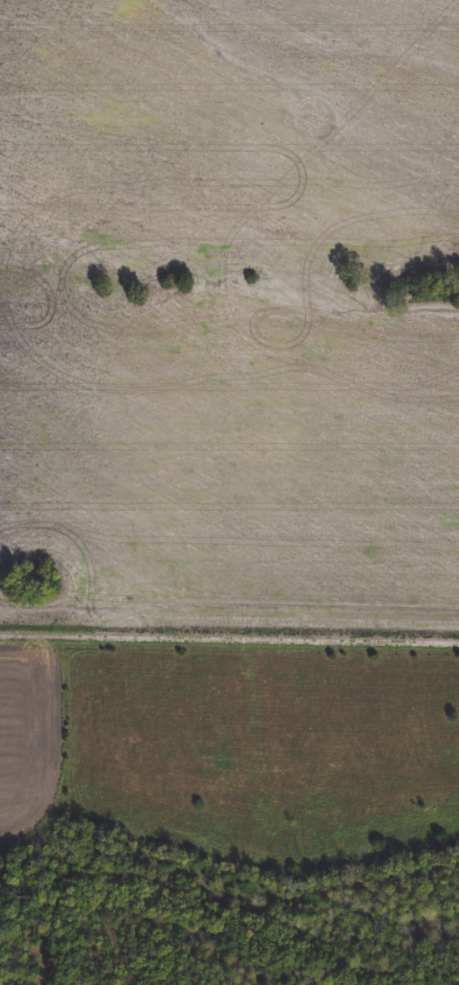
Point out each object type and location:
road: (229, 634)

